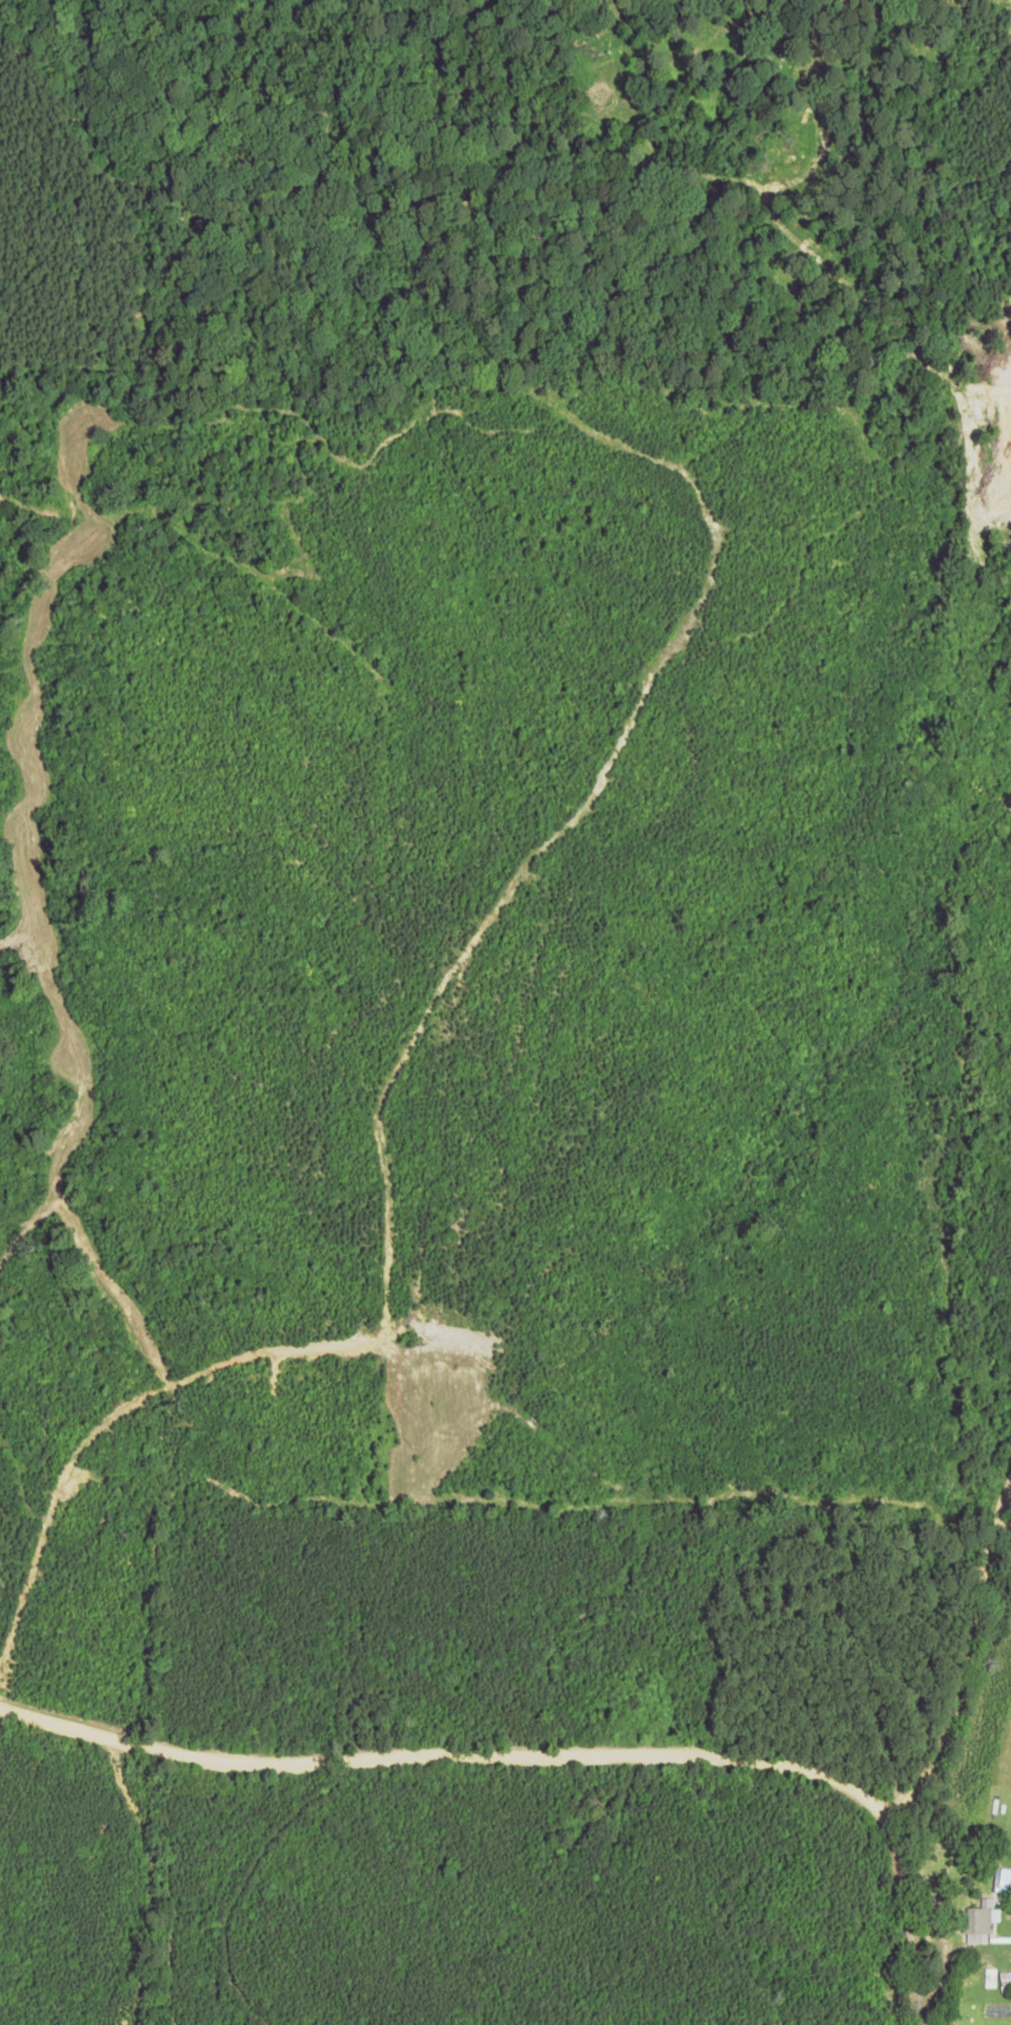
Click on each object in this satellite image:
road: (463, 1762)
road: (970, 1762)
building: (988, 1910)
road: (913, 1943)
building: (1005, 1977)

